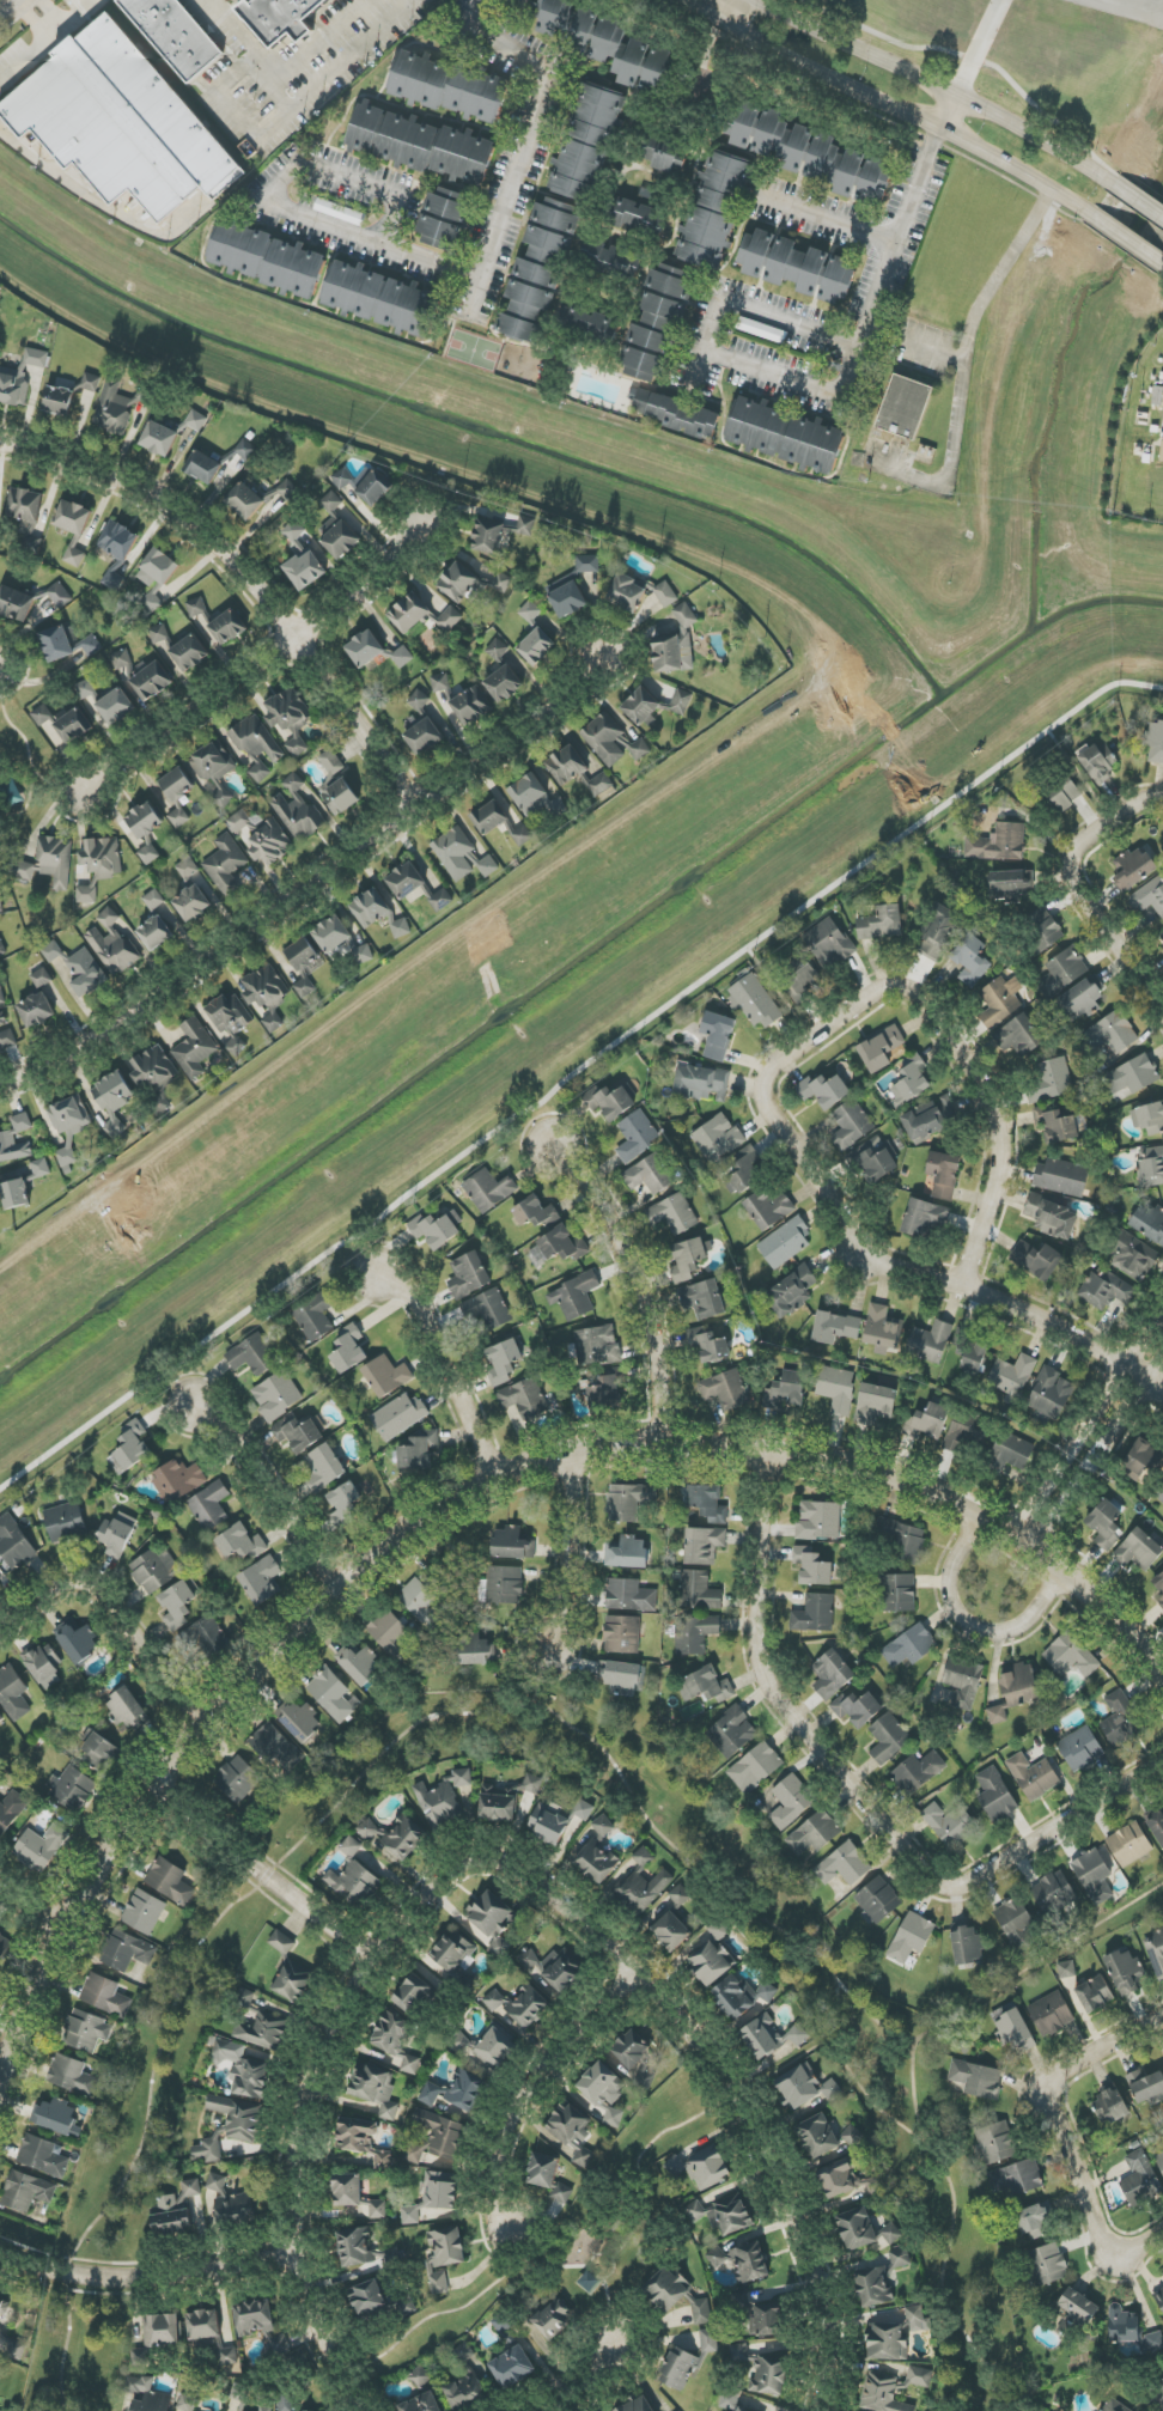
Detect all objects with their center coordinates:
road: (6, 5)
road: (1132, 5)
road: (735, 16)
building: (280, 18)
building: (568, 24)
building: (175, 35)
road: (50, 45)
road: (978, 48)
building: (632, 56)
road: (287, 74)
road: (933, 86)
building: (449, 87)
road: (885, 105)
road: (949, 115)
building: (121, 123)
road: (530, 135)
building: (587, 142)
building: (420, 145)
building: (809, 153)
building: (663, 157)
road: (1137, 201)
road: (104, 205)
building: (331, 208)
building: (713, 212)
road: (304, 218)
building: (445, 218)
building: (637, 218)
road: (828, 219)
road: (390, 221)
road: (1126, 241)
building: (268, 260)
building: (609, 261)
road: (890, 264)
road: (1162, 266)
building: (796, 267)
building: (538, 270)
building: (382, 299)
road: (744, 308)
building: (590, 323)
building: (657, 323)
road: (932, 349)
road: (964, 371)
road: (772, 375)
building: (20, 377)
building: (91, 382)
building: (59, 401)
road: (1159, 403)
building: (905, 407)
building: (114, 408)
building: (677, 414)
building: (196, 420)
building: (786, 436)
building: (159, 438)
building: (245, 450)
building: (1162, 453)
building: (202, 467)
building: (342, 479)
building: (375, 488)
building: (244, 500)
building: (26, 515)
building: (73, 517)
building: (337, 529)
building: (293, 531)
building: (498, 534)
building: (117, 549)
building: (74, 553)
building: (305, 570)
building: (589, 576)
building: (156, 577)
road: (245, 582)
building: (638, 592)
building: (59, 595)
building: (568, 599)
building: (16, 603)
building: (195, 607)
building: (530, 611)
building: (409, 613)
building: (447, 619)
building: (227, 627)
building: (158, 633)
building: (56, 644)
building: (675, 645)
building: (536, 646)
building: (365, 649)
building: (497, 650)
building: (189, 653)
building: (402, 656)
building: (121, 658)
road: (258, 675)
building: (148, 678)
building: (439, 682)
building: (504, 683)
building: (85, 689)
building: (419, 700)
building: (471, 706)
building: (116, 707)
building: (42, 714)
building: (290, 718)
building: (73, 726)
building: (424, 736)
building: (613, 741)
building: (1153, 742)
building: (257, 747)
building: (1098, 761)
building: (212, 762)
building: (576, 772)
road: (1078, 775)
building: (176, 784)
building: (336, 785)
building: (1065, 793)
building: (536, 798)
building: (297, 810)
building: (178, 816)
building: (489, 817)
building: (239, 823)
building: (146, 829)
building: (522, 835)
building: (269, 842)
building: (998, 844)
building: (461, 856)
building: (48, 863)
building: (225, 864)
building: (98, 865)
building: (187, 867)
building: (1133, 869)
building: (1011, 885)
road: (1074, 885)
building: (418, 887)
building: (1150, 896)
building: (153, 900)
road: (312, 902)
building: (193, 903)
building: (0, 905)
building: (377, 913)
building: (881, 924)
building: (1042, 930)
building: (156, 933)
building: (938, 933)
building: (340, 939)
building: (1161, 939)
building: (829, 943)
building: (112, 945)
building: (1, 949)
building: (302, 955)
building: (972, 960)
building: (79, 968)
building: (1062, 973)
building: (42, 978)
building: (800, 978)
building: (304, 987)
road: (778, 993)
building: (1, 994)
building: (267, 994)
building: (1084, 998)
building: (754, 1000)
building: (1000, 1000)
road: (1161, 1004)
building: (36, 1010)
building: (2, 1018)
building: (231, 1021)
building: (1110, 1034)
building: (718, 1035)
building: (1018, 1036)
building: (7, 1039)
building: (194, 1048)
building: (154, 1073)
road: (576, 1073)
building: (1132, 1076)
building: (1049, 1080)
building: (911, 1082)
building: (702, 1083)
road: (988, 1083)
building: (824, 1090)
building: (114, 1100)
building: (610, 1101)
building: (71, 1115)
building: (1149, 1118)
building: (928, 1120)
building: (851, 1125)
building: (1057, 1126)
building: (637, 1136)
building: (7, 1137)
building: (717, 1138)
building: (67, 1157)
building: (875, 1159)
building: (1151, 1167)
building: (41, 1168)
building: (747, 1170)
building: (650, 1175)
building: (944, 1175)
building: (1061, 1177)
building: (488, 1189)
building: (14, 1194)
building: (771, 1207)
building: (535, 1212)
building: (674, 1214)
building: (924, 1217)
building: (1052, 1217)
building: (1149, 1222)
building: (437, 1229)
building: (785, 1243)
building: (562, 1244)
building: (1132, 1255)
building: (689, 1259)
building: (1037, 1259)
road: (881, 1262)
building: (468, 1275)
road: (643, 1285)
building: (1104, 1290)
building: (792, 1292)
building: (574, 1296)
building: (704, 1299)
building: (487, 1309)
building: (316, 1316)
building: (835, 1327)
building: (883, 1329)
building: (930, 1343)
building: (708, 1345)
building: (596, 1346)
building: (348, 1348)
building: (252, 1354)
building: (972, 1356)
building: (503, 1360)
road: (449, 1364)
building: (1011, 1375)
building: (386, 1376)
building: (836, 1388)
building: (725, 1389)
building: (786, 1389)
building: (605, 1390)
building: (1052, 1393)
building: (278, 1395)
building: (524, 1399)
building: (875, 1404)
building: (400, 1417)
building: (927, 1421)
road: (1092, 1429)
building: (300, 1435)
building: (966, 1435)
building: (130, 1447)
building: (419, 1451)
building: (1009, 1453)
building: (1143, 1460)
building: (323, 1467)
building: (178, 1480)
road: (469, 1485)
road: (275, 1488)
building: (1159, 1493)
building: (629, 1502)
building: (708, 1503)
building: (345, 1505)
building: (209, 1506)
building: (65, 1521)
building: (818, 1521)
building: (1106, 1523)
building: (117, 1534)
building: (902, 1540)
building: (14, 1544)
building: (240, 1544)
building: (512, 1545)
building: (704, 1545)
building: (1138, 1551)
road: (568, 1552)
building: (626, 1553)
building: (814, 1567)
building: (156, 1571)
building: (262, 1581)
building: (0, 1582)
building: (1159, 1583)
building: (503, 1585)
building: (699, 1590)
building: (899, 1593)
building: (629, 1595)
building: (422, 1601)
building: (1161, 1601)
building: (179, 1603)
building: (815, 1614)
road: (110, 1622)
road: (970, 1624)
building: (695, 1633)
building: (622, 1634)
building: (392, 1636)
building: (208, 1637)
building: (77, 1640)
building: (911, 1646)
building: (473, 1650)
building: (1071, 1656)
building: (360, 1664)
building: (44, 1666)
building: (832, 1674)
building: (620, 1678)
road: (540, 1679)
building: (963, 1681)
building: (705, 1686)
building: (1015, 1691)
building: (13, 1694)
building: (330, 1694)
road: (780, 1699)
building: (857, 1707)
building: (127, 1710)
building: (0, 1721)
building: (300, 1721)
building: (1121, 1721)
building: (732, 1733)
road: (583, 1735)
building: (888, 1739)
building: (275, 1746)
building: (1080, 1748)
building: (101, 1752)
building: (755, 1767)
building: (912, 1771)
building: (1034, 1776)
building: (238, 1779)
building: (532, 1783)
building: (72, 1788)
building: (995, 1795)
building: (444, 1800)
building: (790, 1802)
building: (498, 1803)
building: (11, 1809)
building: (556, 1821)
building: (954, 1826)
building: (1157, 1827)
road: (1058, 1828)
building: (814, 1833)
building: (395, 1835)
building: (1129, 1844)
building: (39, 1847)
building: (351, 1847)
building: (597, 1852)
building: (643, 1856)
building: (844, 1865)
road: (261, 1873)
building: (1094, 1876)
building: (170, 1881)
building: (354, 1882)
building: (643, 1891)
building: (1054, 1893)
building: (681, 1895)
building: (878, 1900)
road: (26, 1911)
building: (144, 1912)
building: (492, 1914)
building: (1016, 1924)
building: (670, 1931)
building: (912, 1937)
building: (282, 1942)
building: (4, 1946)
building: (967, 1946)
building: (126, 1950)
building: (1156, 1952)
building: (713, 1955)
building: (456, 1958)
building: (528, 1960)
road: (1039, 1962)
building: (561, 1969)
building: (1066, 1969)
building: (1125, 1971)
building: (293, 1981)
building: (412, 1993)
building: (104, 1995)
building: (1095, 1995)
building: (741, 1996)
building: (244, 1997)
building: (493, 2001)
building: (528, 2005)
building: (1051, 2014)
road: (870, 2017)
building: (1013, 2028)
building: (264, 2031)
building: (86, 2032)
building: (391, 2034)
building: (771, 2036)
building: (458, 2042)
building: (495, 2048)
building: (634, 2057)
building: (410, 2064)
building: (242, 2069)
road: (1067, 2070)
building: (72, 2075)
building: (978, 2078)
road: (532, 2083)
building: (805, 2087)
building: (1146, 2087)
building: (375, 2089)
road: (732, 2090)
building: (455, 2092)
building: (605, 2093)
road: (912, 2093)
road: (310, 2102)
road: (711, 2107)
building: (1110, 2107)
building: (238, 2117)
building: (57, 2118)
building: (572, 2132)
building: (355, 2135)
building: (817, 2136)
building: (436, 2137)
building: (995, 2143)
building: (208, 2150)
building: (42, 2156)
building: (382, 2160)
building: (1159, 2160)
building: (701, 2168)
building: (543, 2170)
building: (1017, 2178)
building: (846, 2179)
building: (1140, 2179)
building: (217, 2182)
building: (347, 2190)
building: (439, 2190)
building: (28, 2191)
building: (562, 2193)
building: (235, 2208)
building: (376, 2209)
building: (176, 2210)
road: (644, 2211)
building: (721, 2214)
building: (410, 2215)
building: (1036, 2222)
building: (857, 2229)
building: (891, 2234)
road: (1096, 2235)
building: (363, 2249)
road: (597, 2255)
building: (444, 2257)
building: (717, 2257)
building: (749, 2263)
building: (1047, 2265)
building: (881, 2279)
road: (146, 2281)
building: (676, 2294)
building: (1159, 2297)
building: (741, 2300)
building: (369, 2301)
building: (4, 2306)
building: (406, 2306)
building: (1078, 2306)
road: (462, 2308)
road: (610, 2308)
building: (553, 2318)
building: (917, 2318)
building: (768, 2319)
building: (203, 2324)
building: (163, 2331)
building: (267, 2331)
building: (1133, 2331)
road: (66, 2342)
building: (888, 2342)
building: (708, 2346)
building: (16, 2350)
building: (224, 2352)
building: (140, 2357)
building: (512, 2368)
building: (678, 2369)
building: (762, 2370)
building: (419, 2376)
building: (919, 2376)
road: (584, 2379)
building: (465, 2392)
building: (239, 2393)
building: (1157, 2393)
building: (882, 2394)
building: (146, 2395)
building: (730, 2400)
building: (187, 2403)
building: (421, 2404)
building: (637, 2404)
building: (285, 2405)
building: (1114, 2405)
building: (266, 2409)

